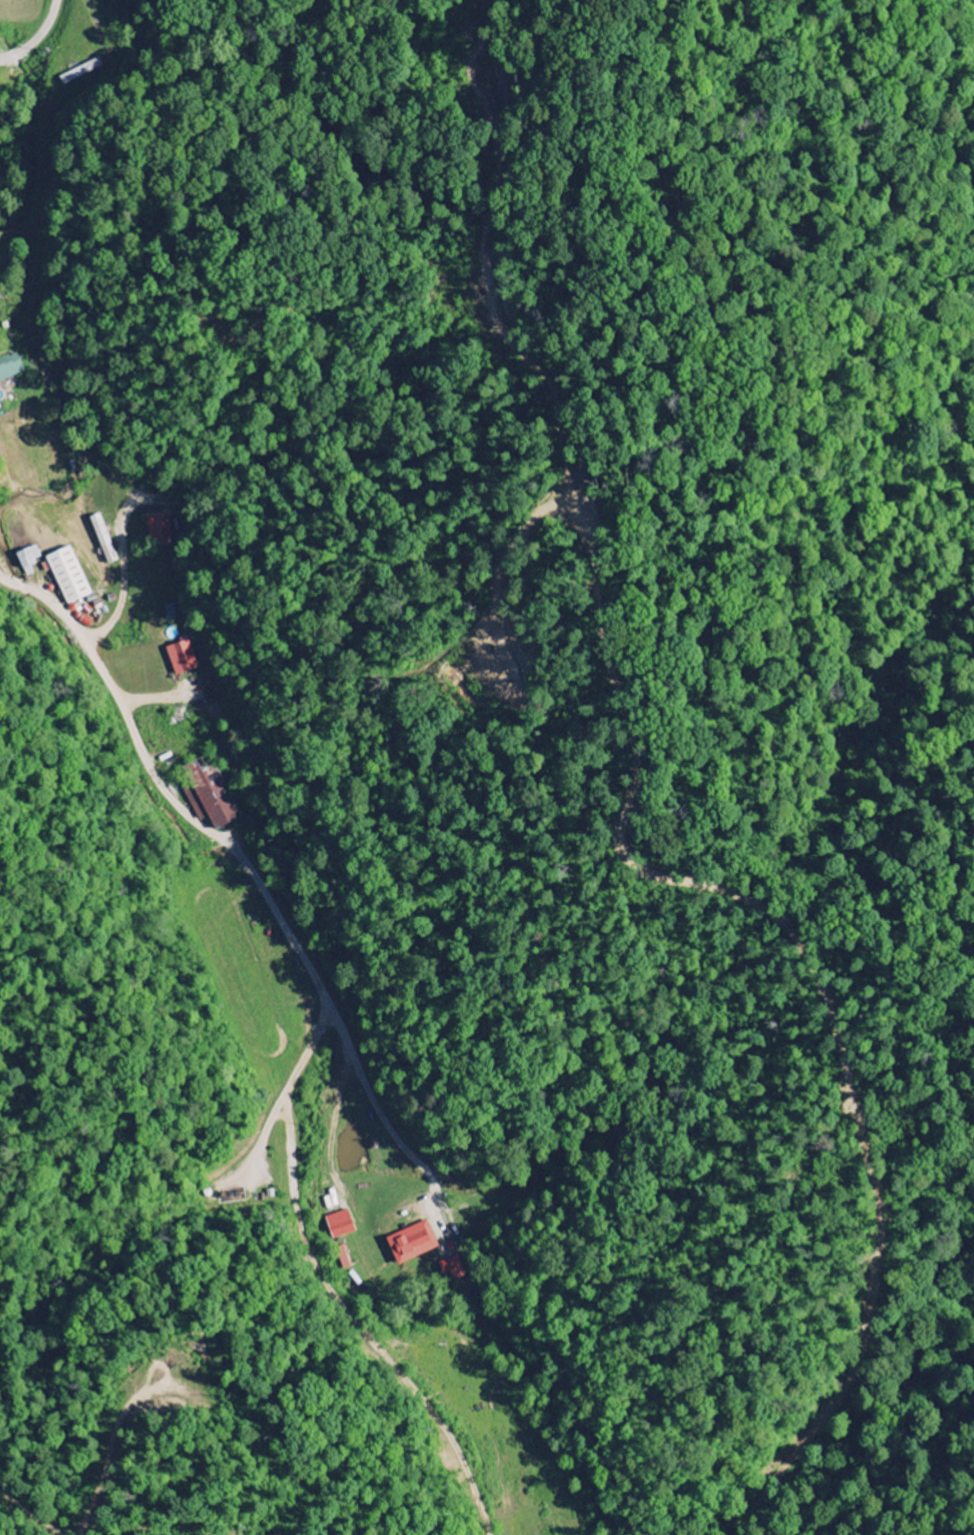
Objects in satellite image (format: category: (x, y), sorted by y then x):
road: (36, 35)
building: (81, 72)
building: (9, 366)
building: (158, 529)
building: (102, 539)
building: (27, 560)
building: (67, 576)
road: (40, 592)
building: (169, 612)
building: (180, 659)
building: (211, 796)
road: (377, 1059)
building: (339, 1226)
building: (411, 1244)
building: (452, 1269)

